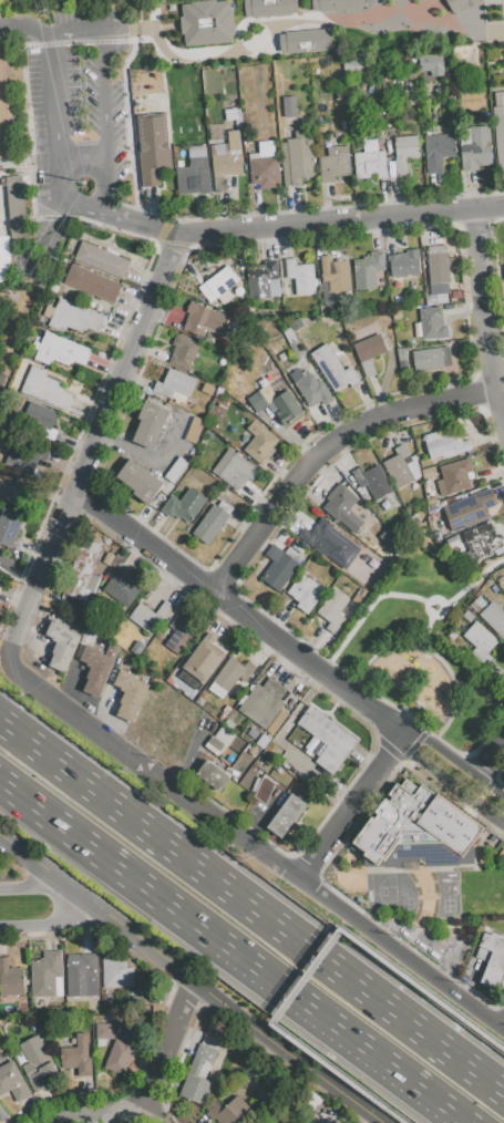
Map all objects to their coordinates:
power tower: (166, 3)
building: (335, 4)
building: (454, 6)
building: (251, 8)
building: (214, 16)
road: (24, 28)
road: (274, 30)
building: (335, 34)
building: (304, 40)
road: (76, 41)
building: (432, 63)
road: (102, 71)
building: (411, 89)
building: (229, 94)
parking lot: (71, 99)
road: (54, 100)
building: (289, 105)
building: (6, 109)
building: (230, 114)
park: (63, 127)
building: (474, 147)
building: (153, 148)
building: (501, 148)
building: (438, 151)
building: (404, 153)
building: (298, 156)
building: (226, 159)
road: (83, 162)
building: (335, 164)
building: (370, 165)
building: (264, 169)
building: (194, 173)
power tower: (90, 184)
road: (107, 187)
road: (69, 200)
building: (17, 210)
road: (117, 215)
road: (234, 215)
road: (342, 218)
power tower: (65, 225)
power tower: (69, 227)
road: (153, 227)
road: (162, 230)
road: (182, 246)
building: (4, 259)
building: (102, 259)
building: (405, 264)
building: (368, 270)
building: (439, 272)
building: (301, 276)
building: (333, 278)
building: (264, 281)
building: (93, 284)
building: (219, 284)
power tower: (23, 296)
power tower: (30, 301)
road: (485, 316)
building: (75, 317)
building: (205, 319)
building: (432, 323)
building: (298, 349)
building: (61, 350)
building: (183, 351)
building: (369, 351)
building: (432, 358)
road: (124, 361)
building: (335, 368)
power substation: (2, 384)
building: (175, 384)
building: (45, 388)
building: (311, 388)
building: (278, 405)
building: (39, 419)
building: (151, 423)
building: (195, 430)
building: (260, 442)
building: (443, 443)
road: (327, 451)
building: (24, 455)
building: (399, 466)
building: (176, 468)
building: (234, 470)
building: (429, 475)
building: (454, 476)
building: (140, 481)
building: (372, 481)
building: (21, 494)
building: (184, 505)
building: (343, 508)
building: (470, 508)
building: (213, 521)
building: (9, 526)
building: (389, 539)
building: (330, 543)
building: (482, 543)
building: (452, 544)
building: (90, 554)
building: (110, 558)
building: (280, 566)
road: (17, 570)
road: (34, 581)
building: (79, 581)
building: (0, 585)
road: (475, 585)
building: (123, 587)
building: (306, 590)
building: (476, 606)
road: (239, 609)
building: (332, 609)
road: (430, 612)
building: (150, 616)
road: (368, 616)
building: (467, 618)
building: (494, 619)
building: (460, 627)
building: (181, 633)
road: (430, 635)
building: (62, 643)
building: (481, 643)
park: (425, 656)
building: (203, 658)
road: (438, 658)
building: (96, 669)
building: (229, 676)
building: (130, 694)
building: (257, 698)
road: (385, 702)
building: (270, 707)
road: (501, 709)
road: (488, 732)
building: (327, 739)
building: (217, 741)
road: (487, 755)
road: (455, 761)
road: (477, 762)
building: (208, 771)
building: (220, 780)
road: (450, 781)
building: (265, 789)
road: (349, 807)
building: (287, 815)
building: (416, 822)
road: (261, 853)
road: (33, 886)
road: (95, 906)
road: (251, 906)
road: (56, 923)
road: (234, 949)
building: (491, 964)
building: (116, 971)
building: (47, 973)
building: (82, 973)
building: (11, 978)
road: (306, 978)
building: (134, 995)
building: (109, 1032)
road: (485, 1034)
road: (161, 1048)
road: (282, 1051)
building: (125, 1053)
building: (81, 1058)
building: (41, 1065)
building: (198, 1075)
building: (14, 1083)
building: (270, 1095)
building: (229, 1111)
road: (94, 1113)
building: (3, 1115)
road: (138, 1120)
road: (405, 1121)

